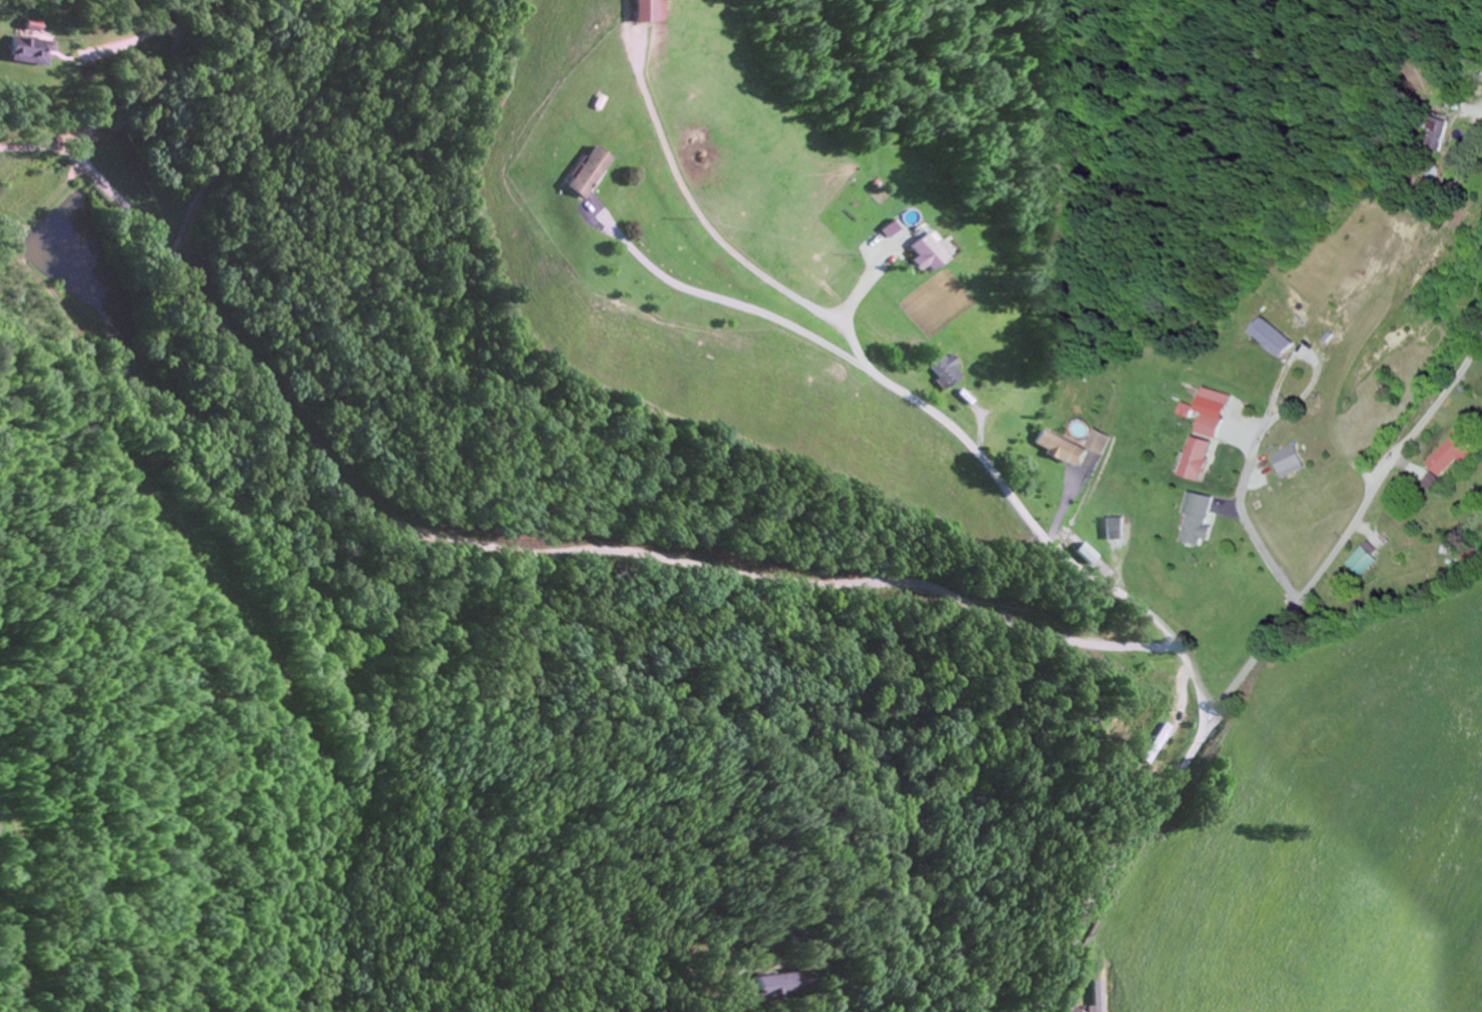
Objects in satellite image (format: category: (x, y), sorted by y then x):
building: (31, 54)
road: (1481, 105)
building: (919, 255)
building: (1271, 339)
road: (407, 367)
building: (945, 376)
building: (1214, 401)
road: (962, 439)
building: (1097, 443)
building: (1451, 459)
building: (1195, 460)
building: (1290, 463)
road: (1247, 518)
building: (1200, 521)
building: (1113, 530)
road: (511, 552)
building: (1366, 563)
road: (1249, 673)
building: (765, 985)

